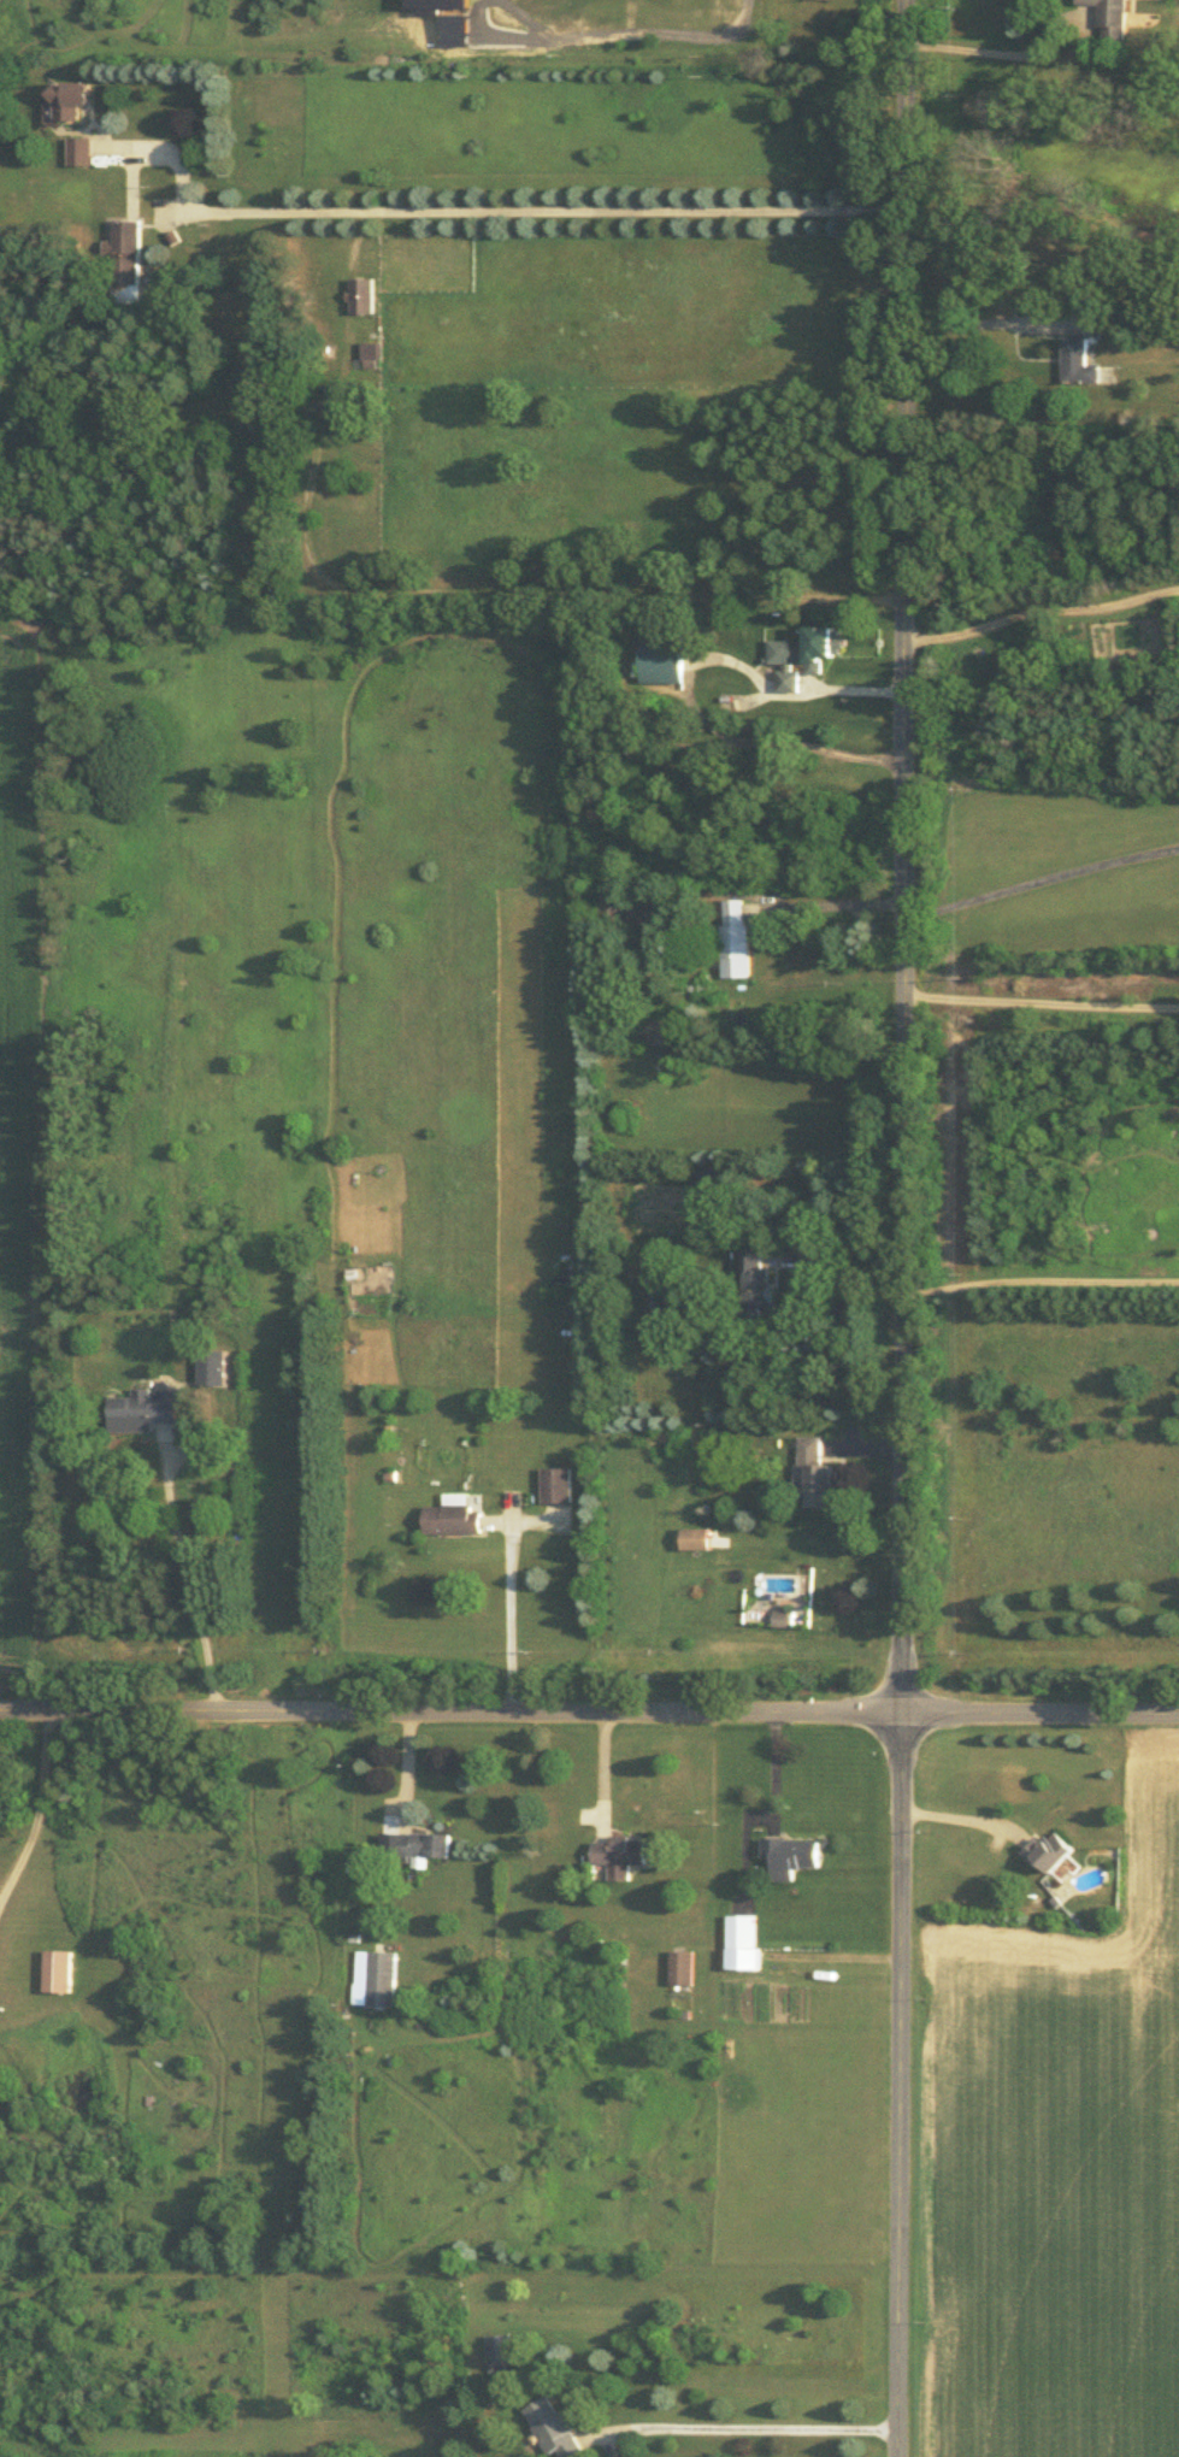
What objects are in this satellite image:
building: (1112, 17)
road: (992, 51)
building: (69, 98)
building: (81, 148)
road: (167, 154)
road: (547, 211)
building: (124, 251)
building: (364, 293)
building: (373, 353)
building: (1079, 360)
road: (1039, 609)
building: (806, 652)
building: (665, 658)
road: (1039, 879)
building: (615, 906)
road: (832, 906)
building: (736, 936)
road: (1039, 1001)
building: (653, 1024)
road: (902, 1228)
road: (837, 1260)
building: (755, 1274)
road: (1039, 1281)
building: (213, 1365)
building: (142, 1409)
building: (814, 1471)
building: (558, 1483)
building: (454, 1515)
building: (697, 1537)
road: (187, 1585)
road: (508, 1613)
building: (784, 1616)
road: (589, 1707)
road: (409, 1769)
road: (607, 1773)
road: (776, 1773)
road: (34, 1802)
road: (961, 1816)
building: (423, 1844)
road: (745, 1849)
building: (1049, 1849)
building: (621, 1852)
building: (790, 1854)
building: (743, 1940)
building: (683, 1964)
building: (57, 1969)
building: (375, 1975)
crop: (1067, 2178)
building: (500, 2351)
building: (554, 2427)
road: (745, 2433)

